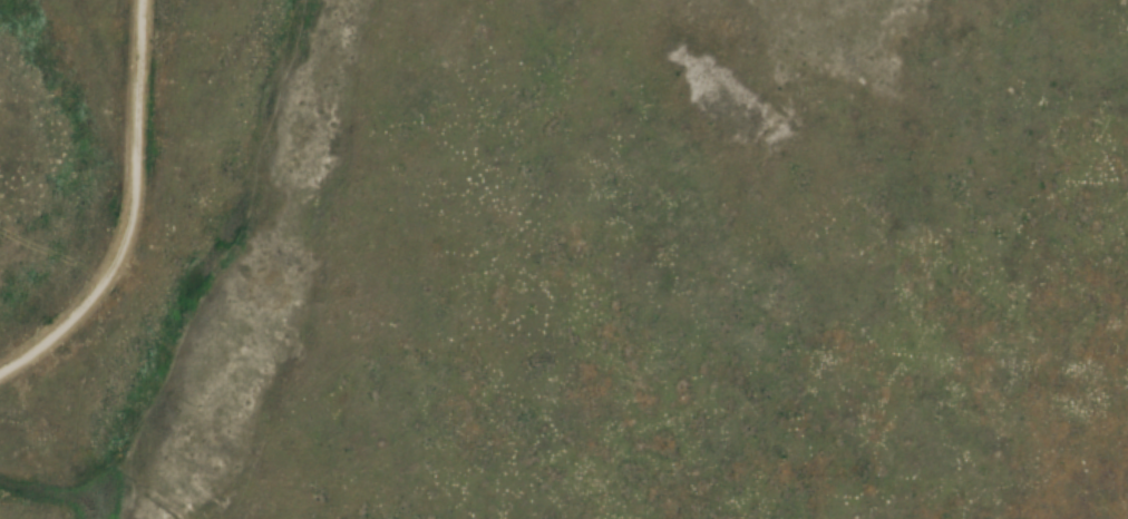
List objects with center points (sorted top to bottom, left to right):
road: (123, 205)

